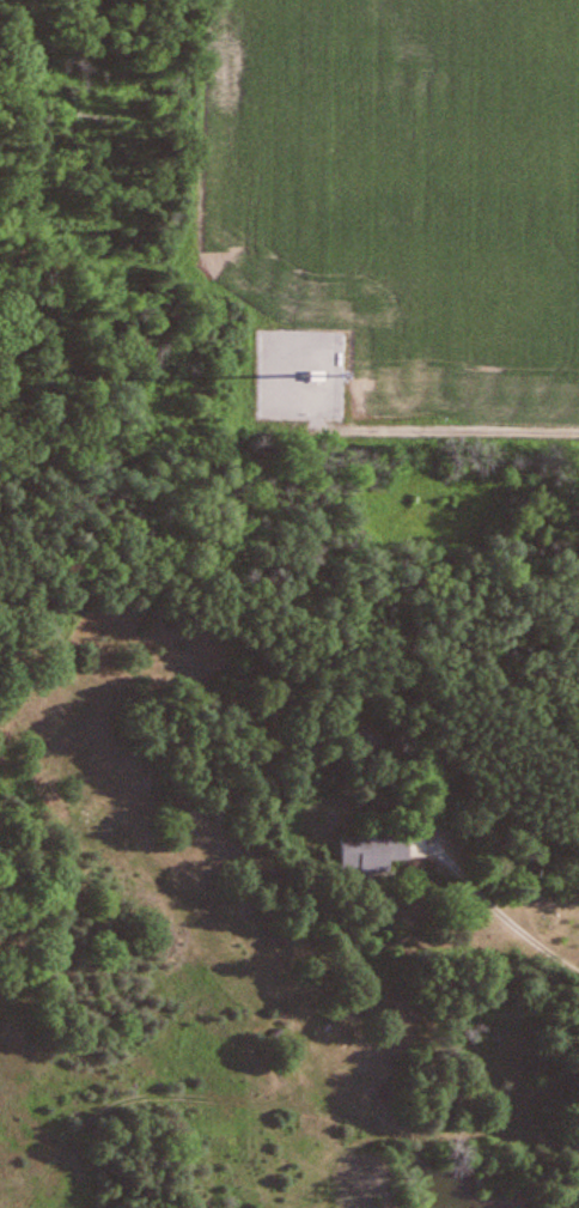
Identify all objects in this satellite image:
road: (443, 409)
building: (359, 739)
building: (362, 854)
road: (506, 919)

